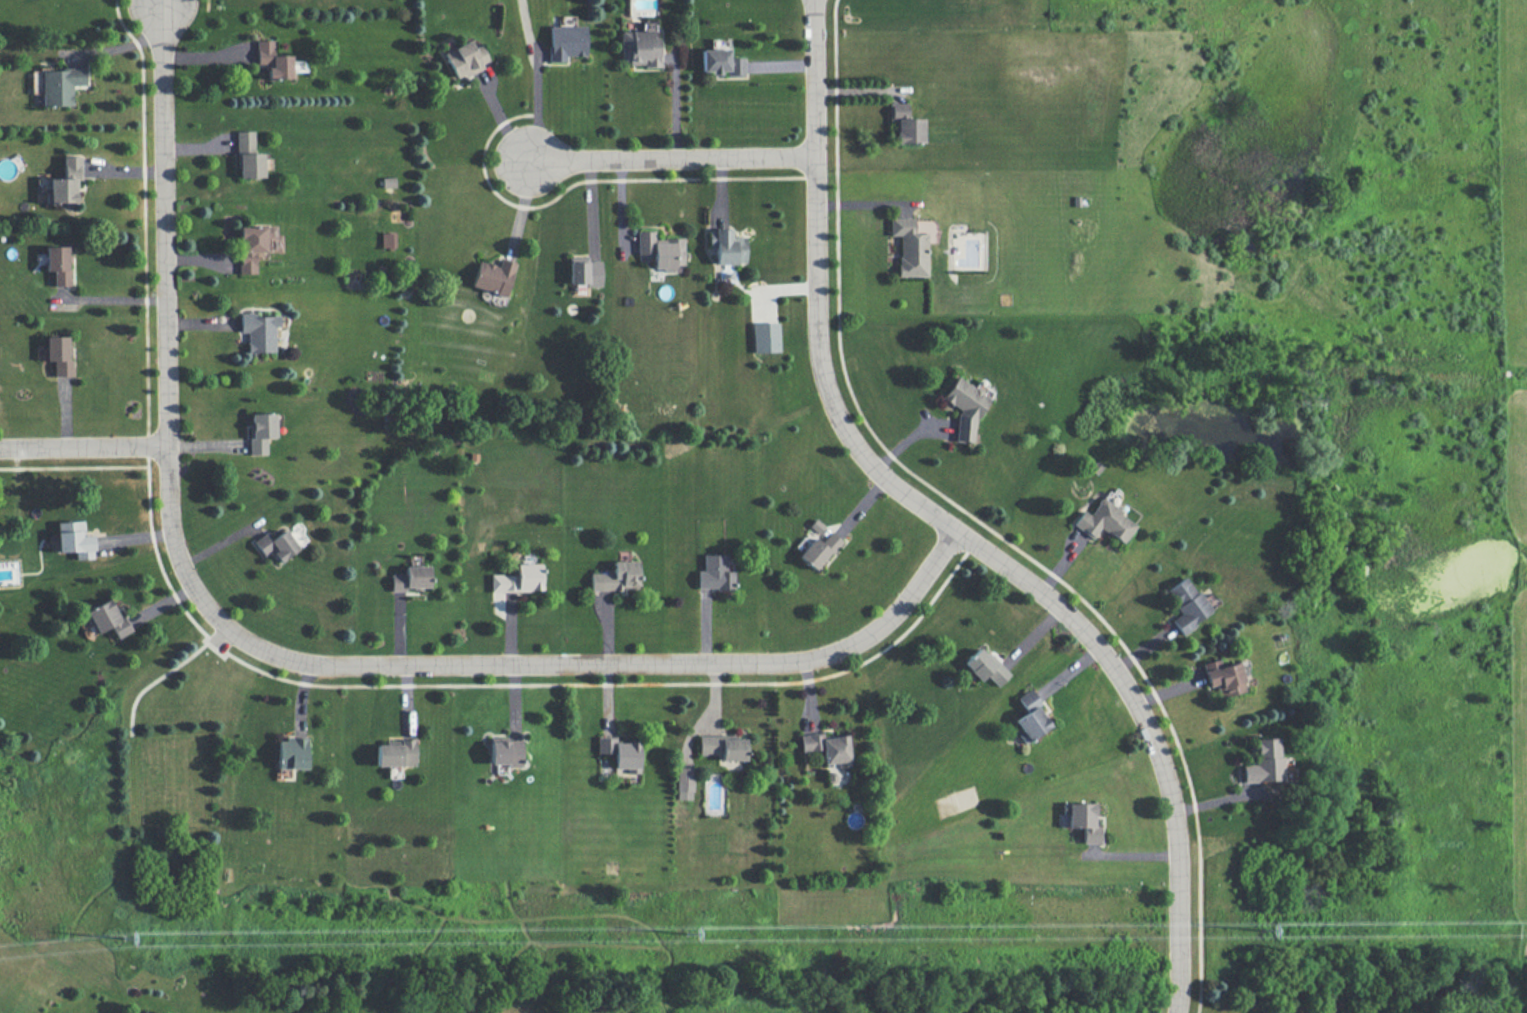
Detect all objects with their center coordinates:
road: (204, 5)
building: (565, 41)
building: (639, 47)
building: (465, 58)
building: (276, 61)
building: (720, 62)
building: (56, 84)
road: (538, 101)
road: (676, 104)
building: (896, 110)
building: (908, 130)
road: (670, 153)
building: (247, 156)
road: (585, 178)
building: (64, 182)
building: (387, 240)
building: (251, 246)
building: (726, 246)
building: (908, 247)
building: (660, 250)
building: (57, 264)
building: (583, 271)
building: (492, 276)
road: (113, 296)
building: (258, 331)
building: (765, 337)
building: (58, 355)
building: (963, 406)
building: (260, 431)
road: (83, 443)
road: (73, 466)
road: (976, 519)
building: (1104, 521)
road: (949, 526)
building: (73, 539)
building: (275, 545)
building: (818, 550)
building: (715, 572)
building: (616, 577)
building: (410, 578)
building: (518, 579)
building: (1186, 604)
building: (107, 618)
parking lot: (221, 638)
road: (291, 656)
building: (985, 666)
road: (271, 674)
building: (1223, 677)
road: (153, 681)
building: (1031, 715)
building: (724, 747)
building: (827, 747)
building: (619, 751)
building: (505, 752)
building: (291, 753)
building: (394, 753)
building: (1263, 762)
park: (167, 778)
building: (685, 783)
building: (1083, 821)
power tower: (1261, 933)
power tower: (689, 934)
power tower: (124, 937)

